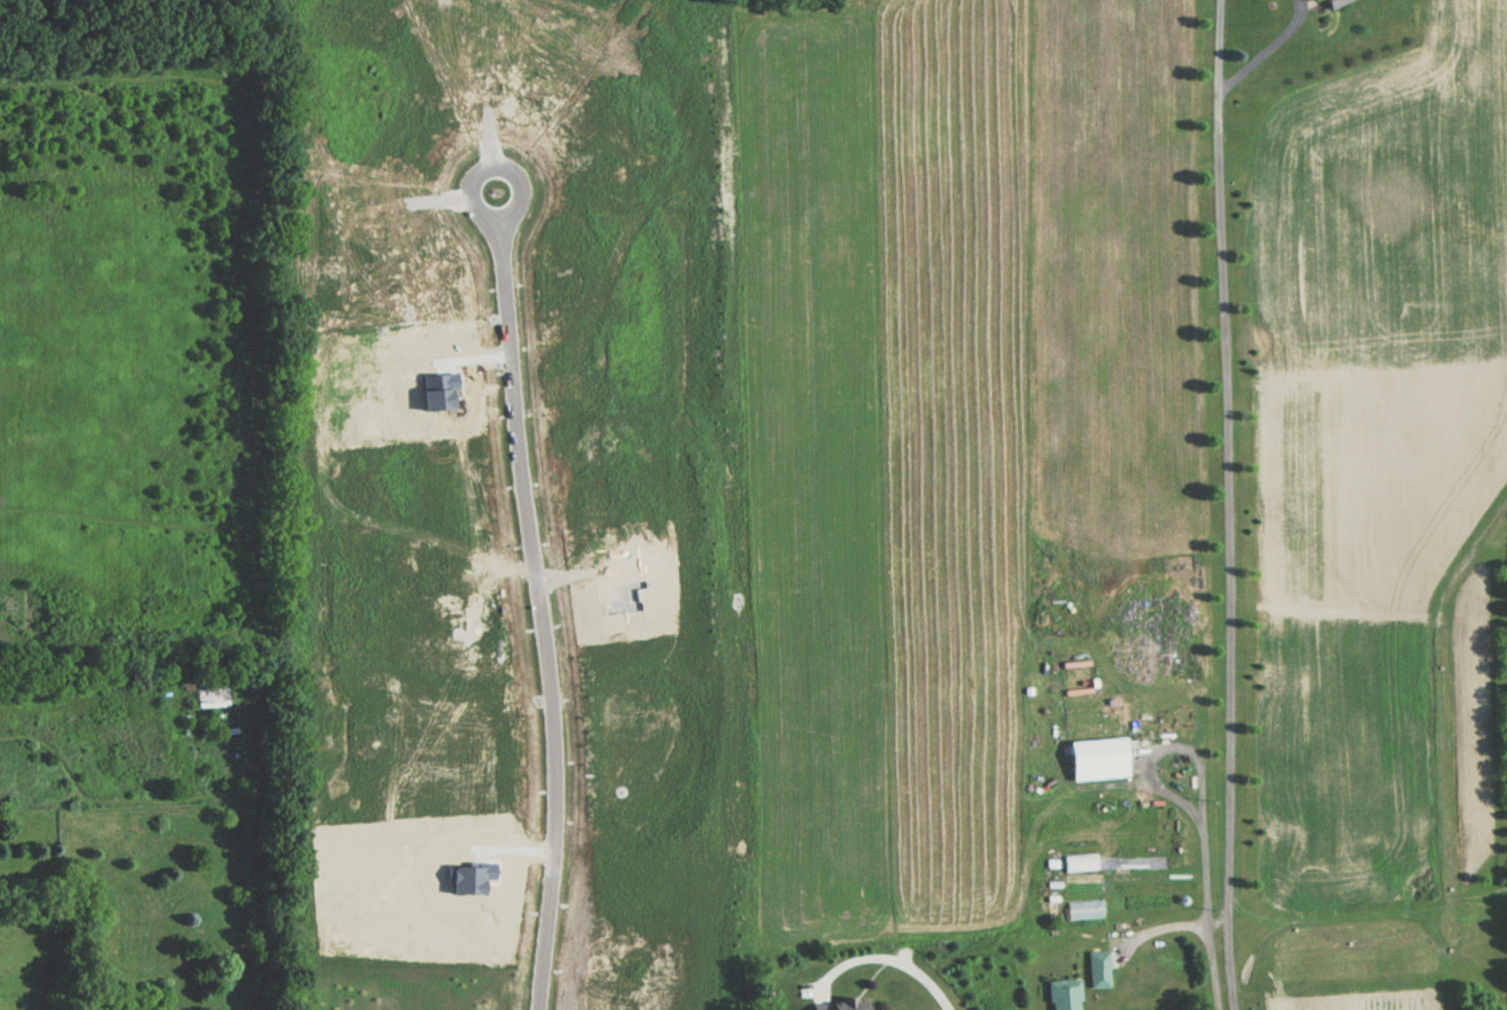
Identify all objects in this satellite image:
building: (1331, 3)
road: (1264, 49)
road: (1217, 64)
road: (493, 163)
road: (1227, 569)
road: (542, 613)
building: (211, 693)
building: (1096, 759)
road: (1153, 787)
building: (1082, 863)
building: (1084, 909)
road: (1215, 920)
road: (1161, 926)
road: (893, 961)
road: (1211, 965)
building: (1096, 968)
road: (819, 986)
road: (808, 988)
building: (1062, 994)
building: (836, 1004)

